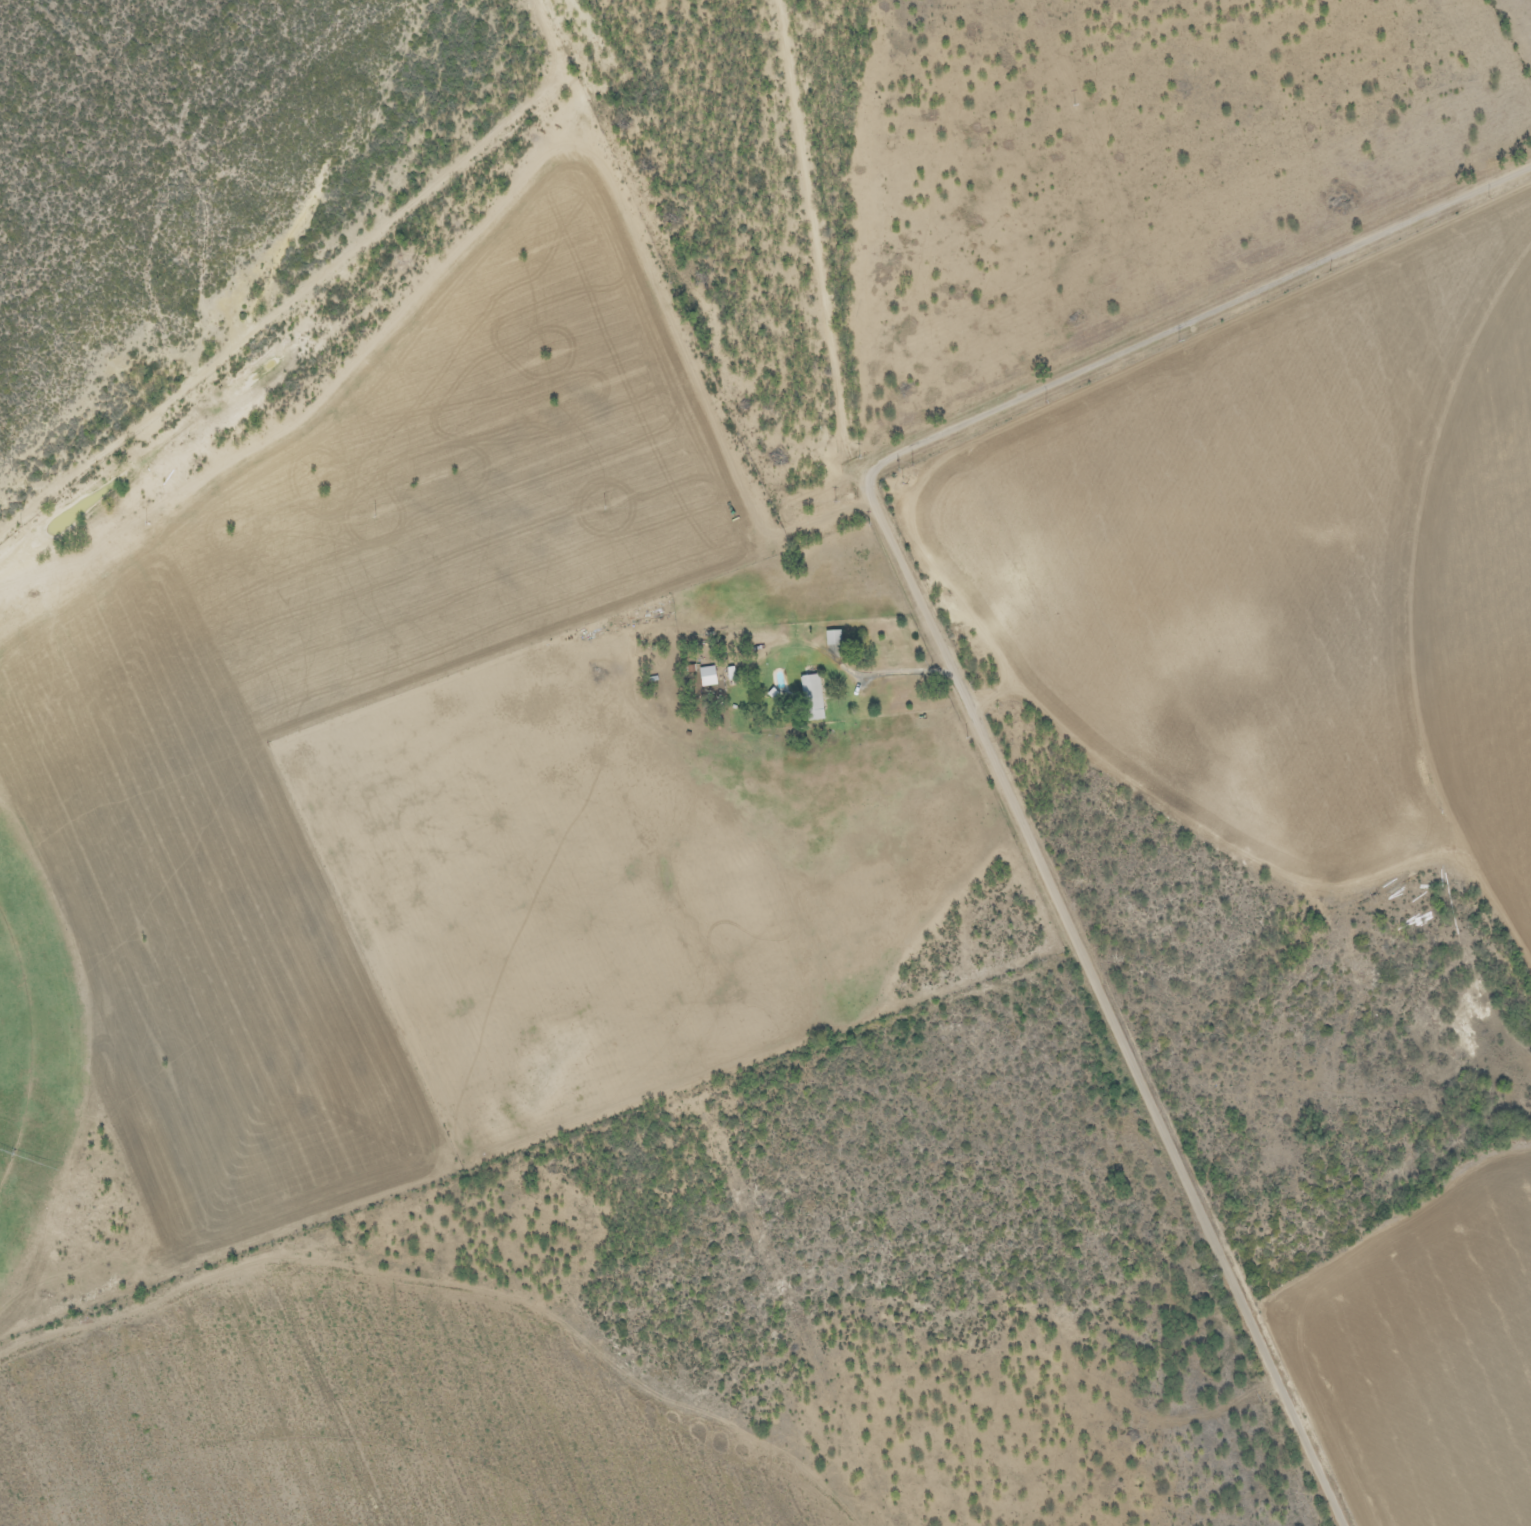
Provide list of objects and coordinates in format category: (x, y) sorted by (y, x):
road: (575, 87)
road: (1100, 361)
building: (831, 638)
building: (706, 677)
building: (811, 698)
road: (1150, 1100)
road: (106, 1465)

